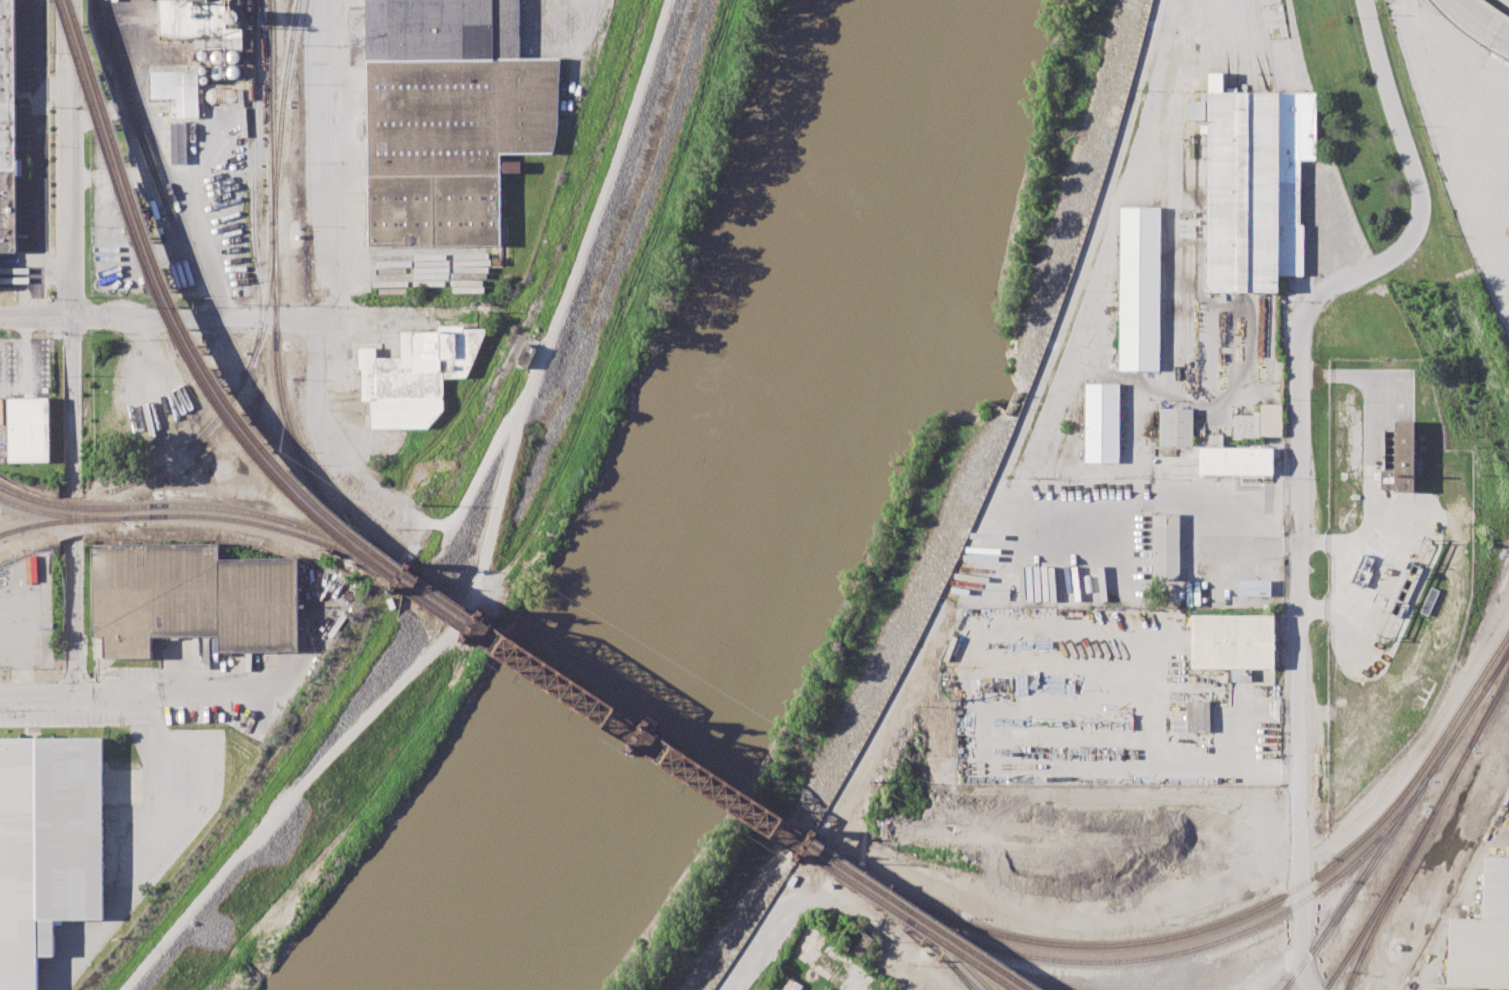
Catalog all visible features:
road: (1393, 1)
parking lot: (1504, 3)
road: (1468, 14)
building: (1275, 21)
building: (442, 30)
road: (1403, 31)
road: (1498, 34)
road: (1482, 67)
road: (1460, 107)
railway: (282, 109)
building: (458, 115)
building: (6, 133)
parking lot: (1464, 134)
road: (1479, 144)
road: (338, 157)
road: (168, 175)
railway: (254, 184)
building: (1256, 187)
road: (1478, 187)
building: (465, 211)
building: (398, 212)
road: (1328, 232)
road: (1488, 234)
road: (1476, 248)
road: (71, 249)
building: (7, 276)
road: (1498, 278)
building: (1139, 288)
railway: (276, 306)
road: (207, 317)
road: (1507, 322)
building: (417, 376)
railway: (235, 393)
building: (1270, 420)
building: (1102, 422)
building: (1245, 426)
building: (1176, 427)
building: (27, 428)
building: (1215, 440)
building: (1399, 458)
road: (1300, 459)
building: (1236, 460)
railway: (61, 505)
railway: (61, 514)
railway: (329, 514)
building: (1340, 514)
railway: (271, 517)
railway: (322, 517)
river: (723, 520)
railway: (62, 521)
railway: (268, 525)
building: (1165, 546)
road: (498, 550)
building: (1254, 587)
building: (192, 598)
road: (73, 619)
building: (1232, 641)
railway: (1496, 669)
railway: (1495, 671)
building: (1240, 675)
road: (173, 695)
road: (37, 699)
railway: (1488, 708)
railway: (606, 710)
railway: (1488, 711)
railway: (602, 716)
building: (1197, 716)
railway: (1455, 736)
road: (1420, 745)
road: (1177, 769)
railway: (1450, 781)
building: (47, 847)
railway: (814, 849)
railway: (820, 861)
railway: (1357, 886)
building: (1495, 888)
road: (1458, 897)
railway: (1387, 900)
road: (832, 901)
railway: (1380, 903)
railway: (909, 916)
railway: (920, 916)
railway: (909, 921)
railway: (1220, 923)
railway: (910, 927)
building: (857, 941)
railway: (1401, 946)
building: (1479, 953)
railway: (1152, 957)
railway: (954, 969)
road: (1275, 971)
building: (792, 984)
road: (1428, 987)

